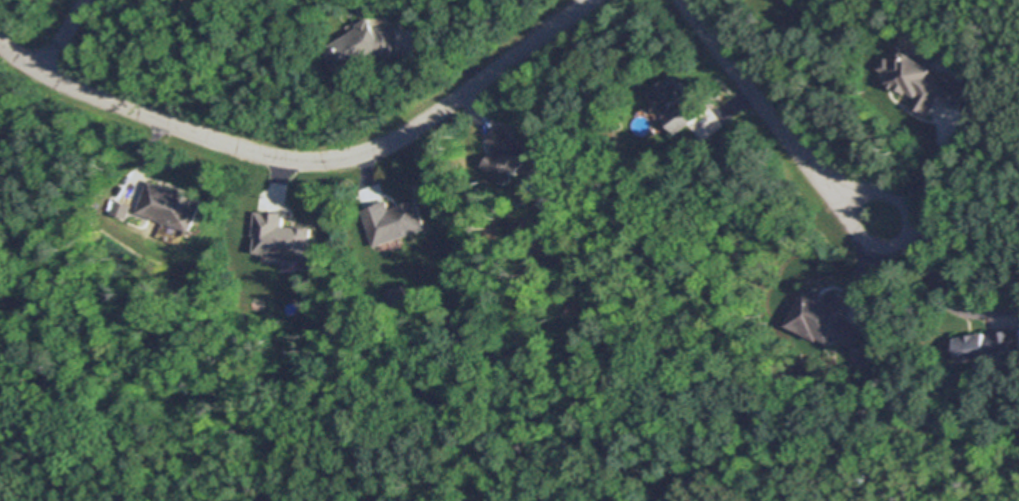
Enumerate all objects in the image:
road: (60, 35)
building: (364, 45)
building: (922, 78)
building: (678, 103)
road: (772, 120)
building: (507, 153)
road: (307, 160)
road: (923, 175)
building: (170, 203)
building: (122, 208)
building: (394, 220)
building: (282, 236)
building: (398, 296)
building: (256, 301)
building: (827, 316)
building: (987, 343)
building: (864, 355)

